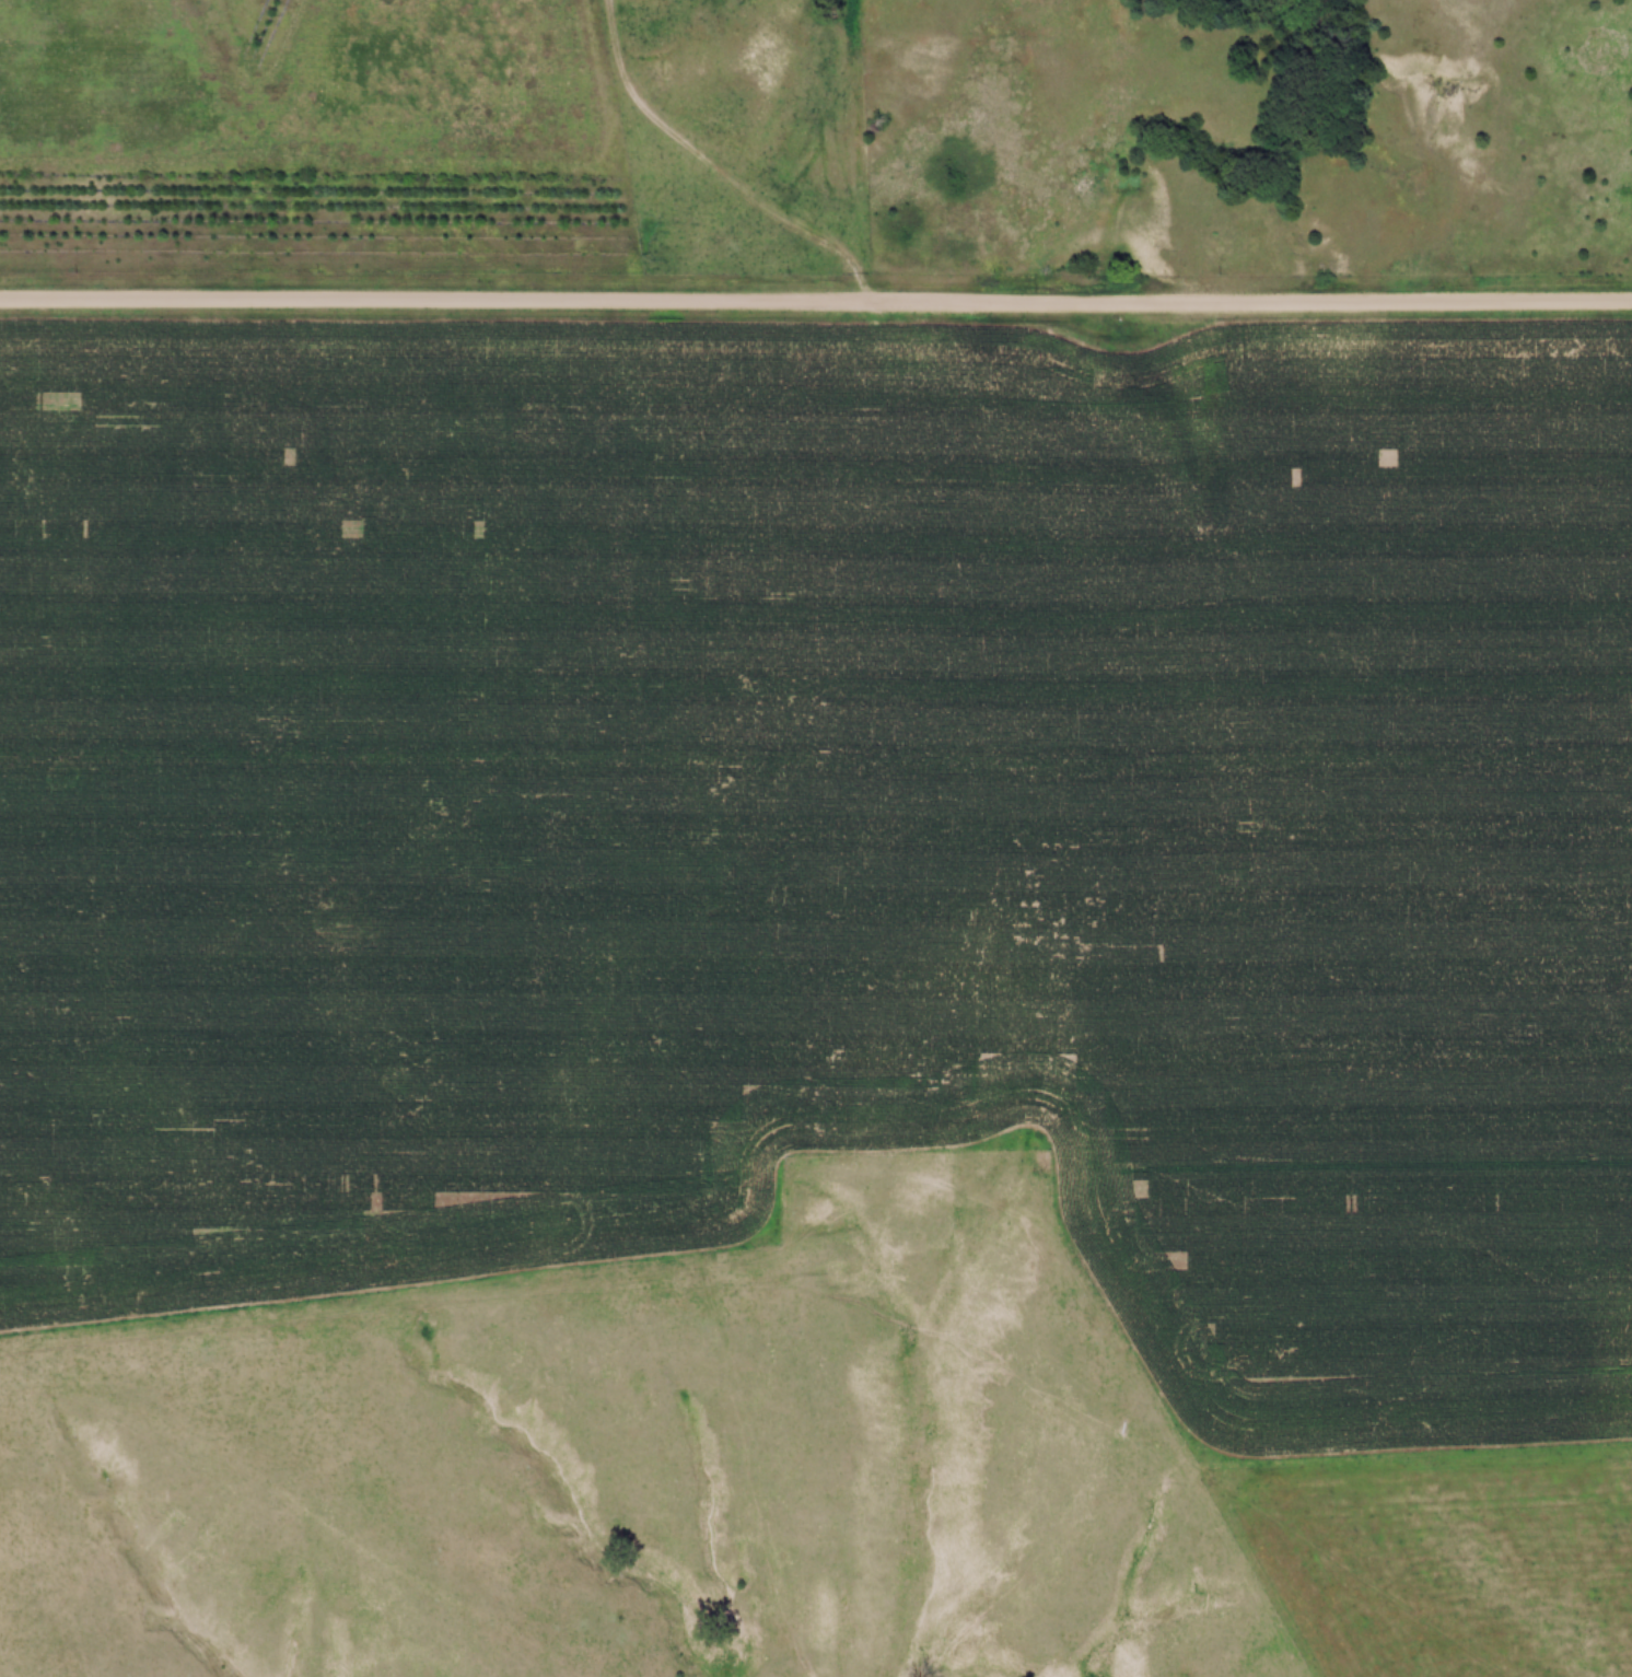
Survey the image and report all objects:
road: (816, 310)

